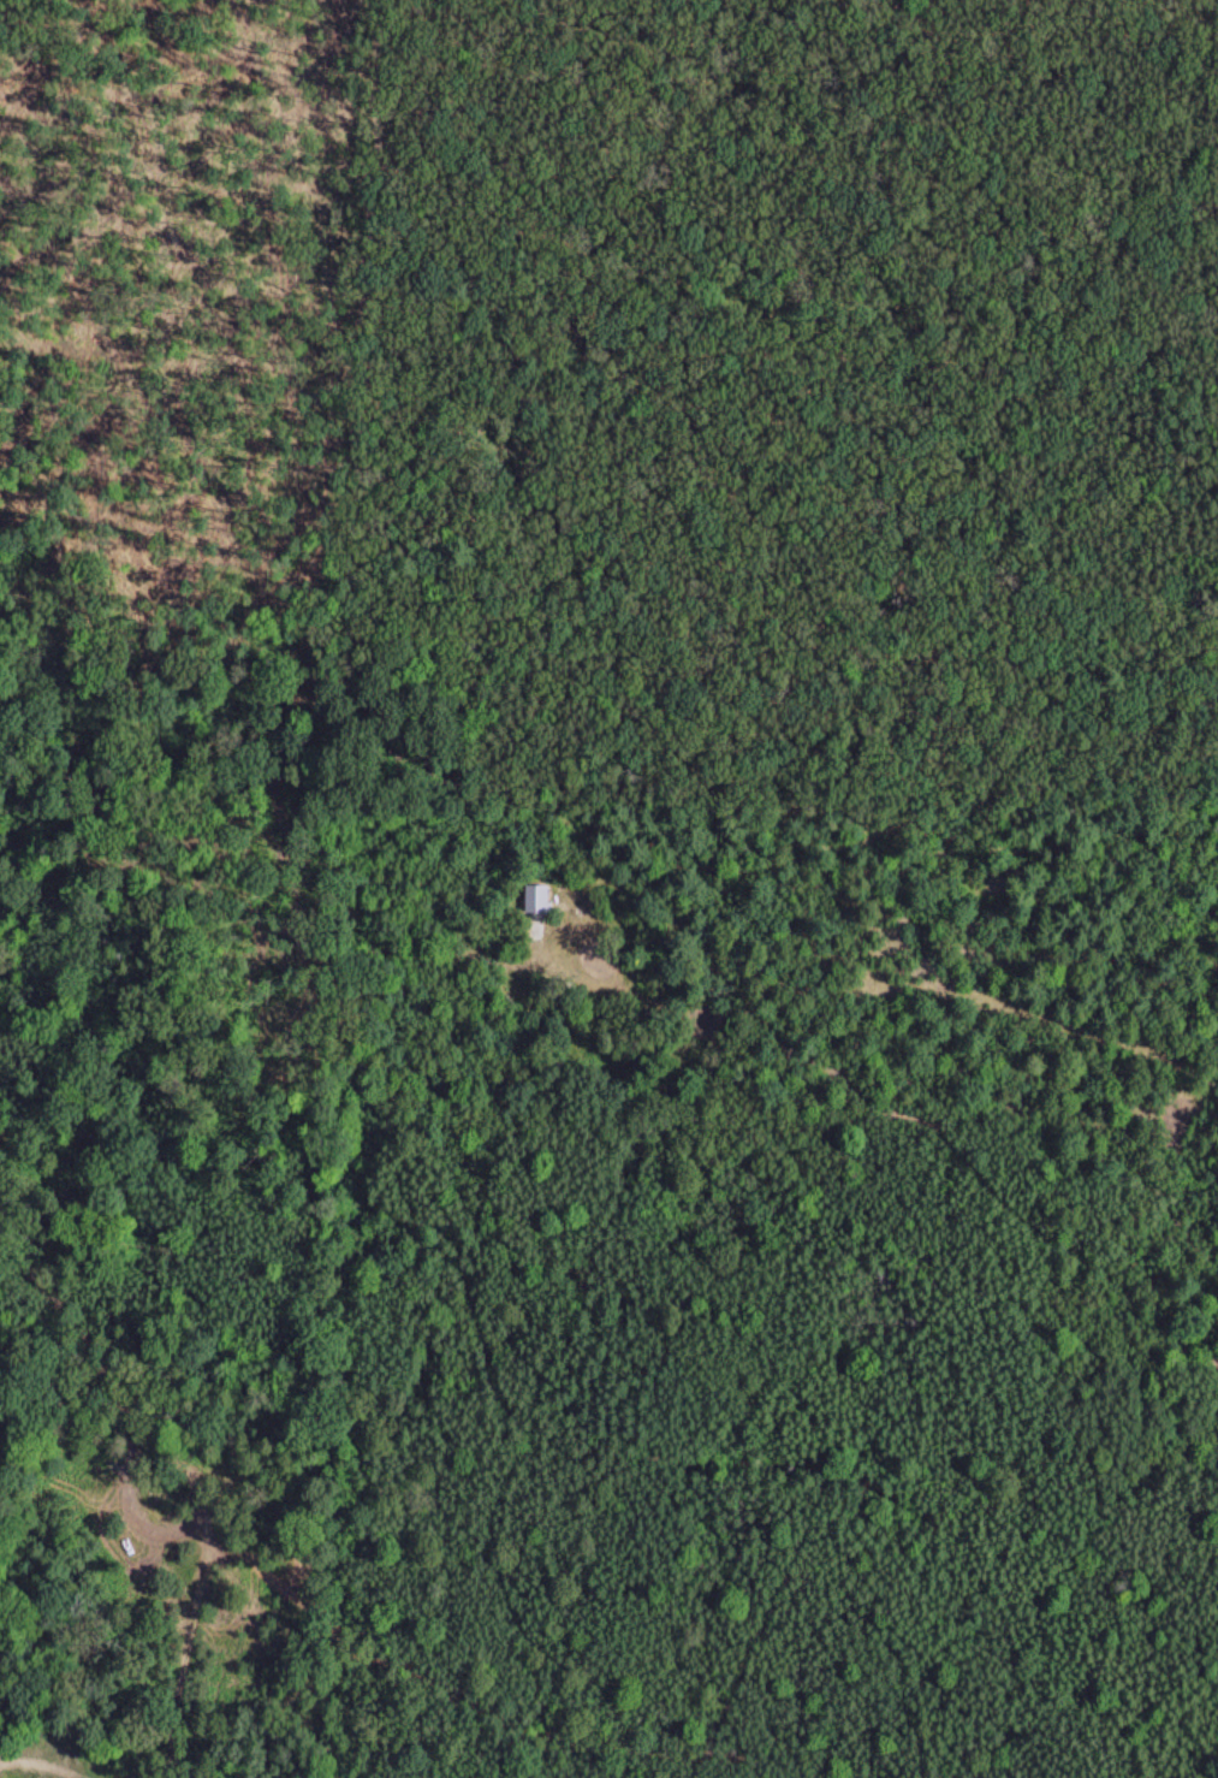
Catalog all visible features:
road: (325, 889)

